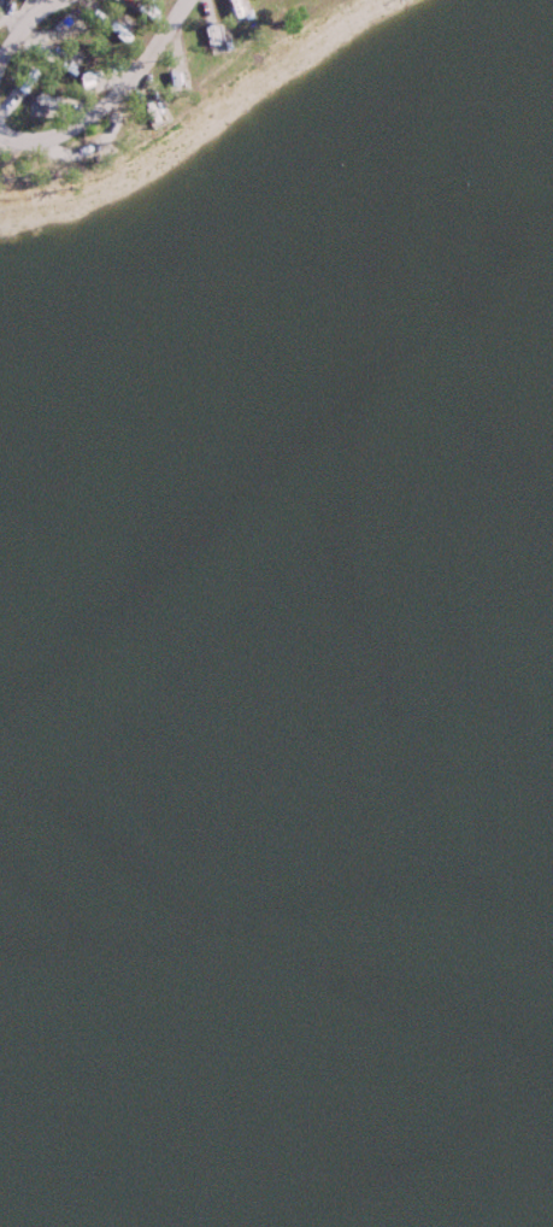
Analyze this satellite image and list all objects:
building: (239, 10)
road: (20, 17)
building: (114, 30)
road: (110, 98)

